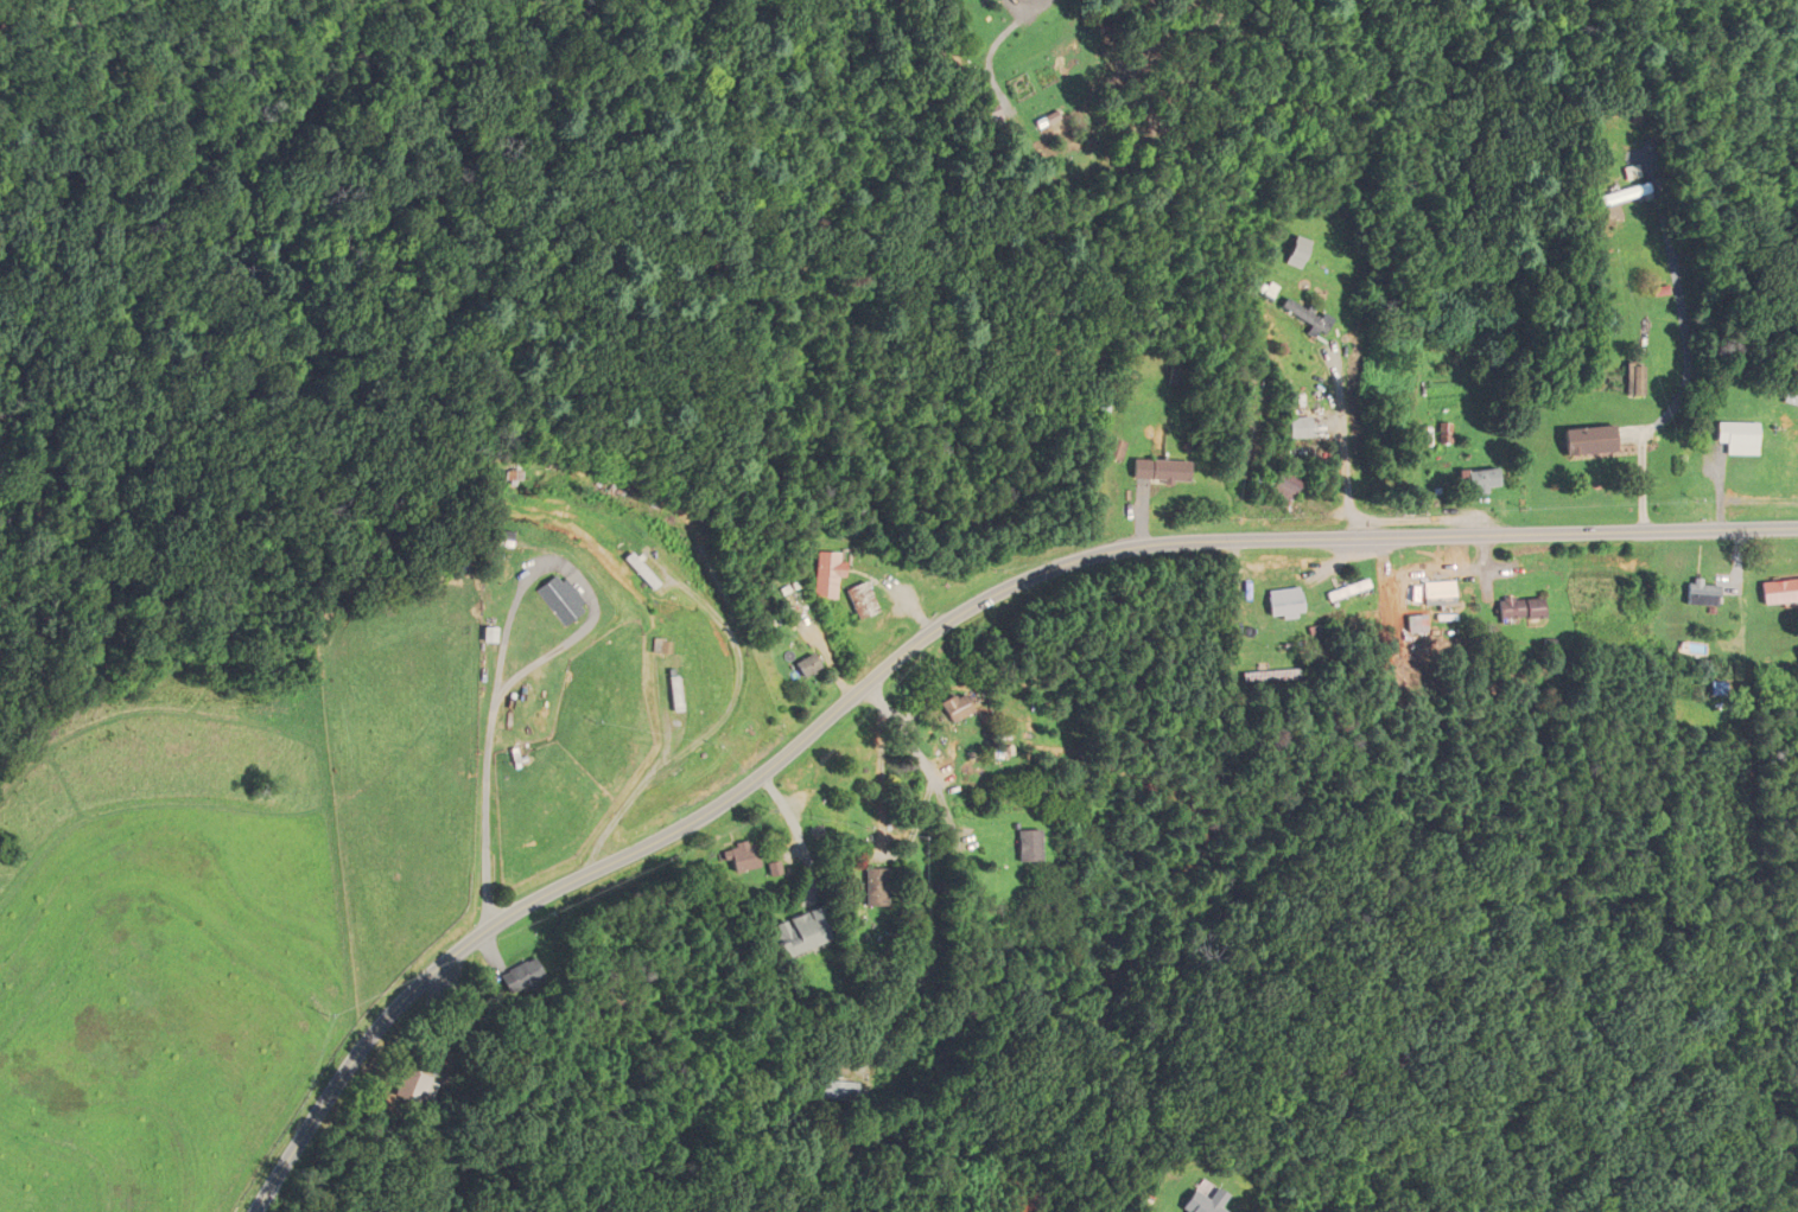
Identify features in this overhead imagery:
building: (1621, 194)
building: (1302, 318)
building: (1632, 381)
road: (1684, 384)
building: (1297, 427)
building: (1732, 434)
building: (1584, 441)
road: (1342, 449)
building: (1117, 451)
building: (1157, 471)
building: (1478, 480)
building: (1281, 487)
building: (496, 538)
building: (644, 570)
building: (828, 575)
building: (1345, 591)
building: (1779, 592)
building: (1699, 593)
building: (1437, 594)
building: (558, 599)
building: (864, 601)
building: (1281, 602)
building: (1517, 608)
building: (1416, 624)
building: (488, 636)
road: (927, 644)
road: (529, 666)
building: (807, 666)
building: (1252, 677)
building: (678, 690)
building: (955, 708)
road: (879, 772)
building: (1029, 846)
building: (743, 856)
road: (964, 860)
building: (879, 886)
building: (801, 932)
building: (521, 976)
building: (418, 1085)
building: (838, 1089)
building: (1201, 1203)

